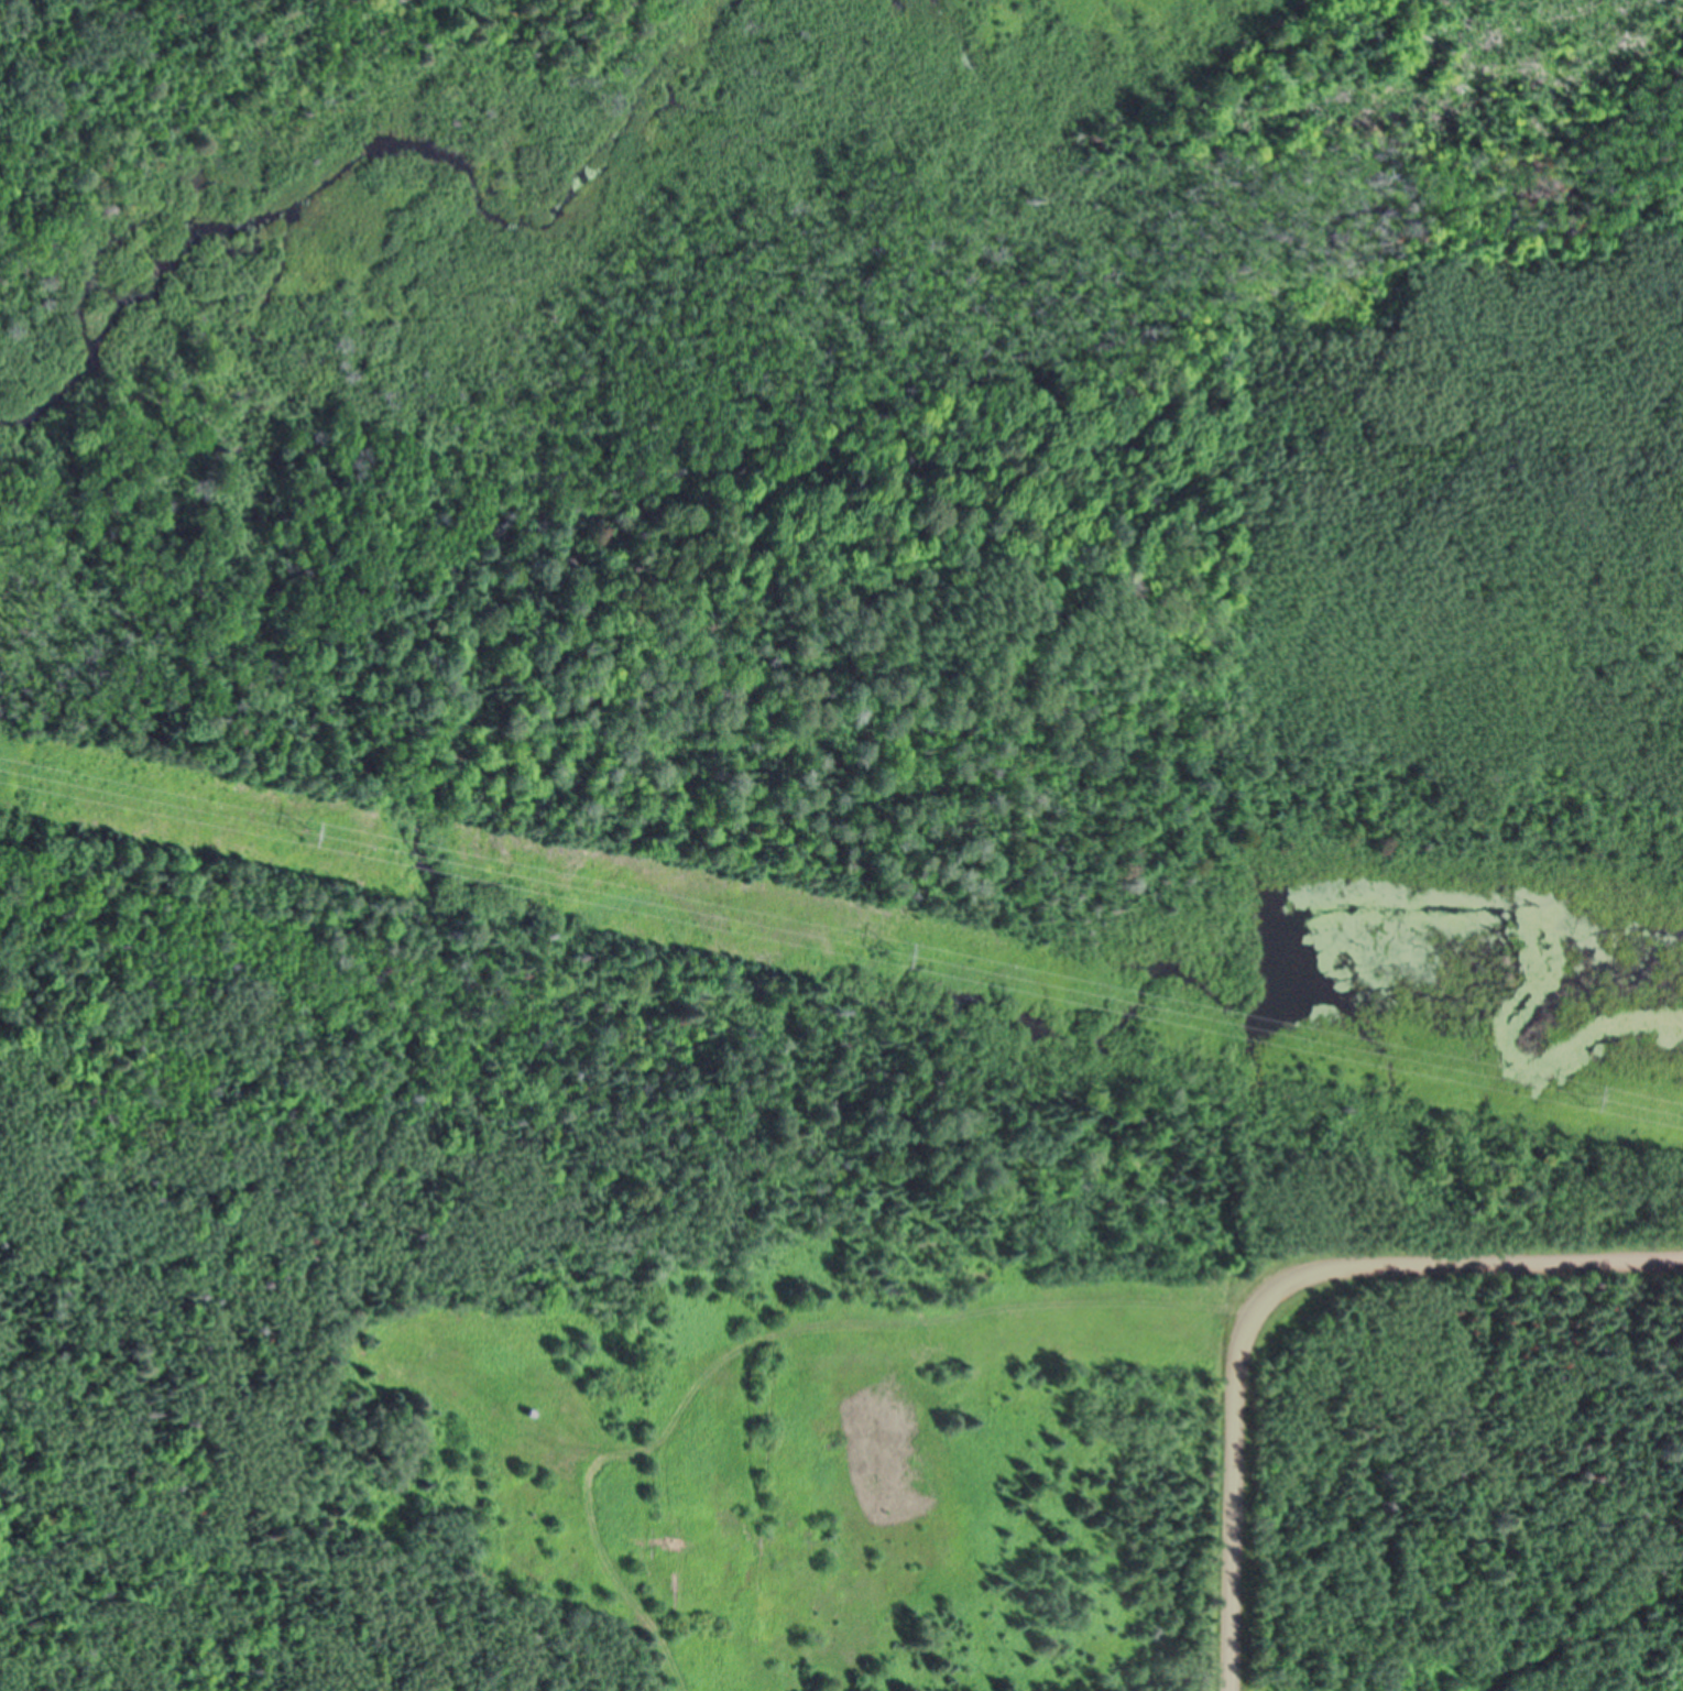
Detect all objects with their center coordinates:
road: (1275, 1288)

